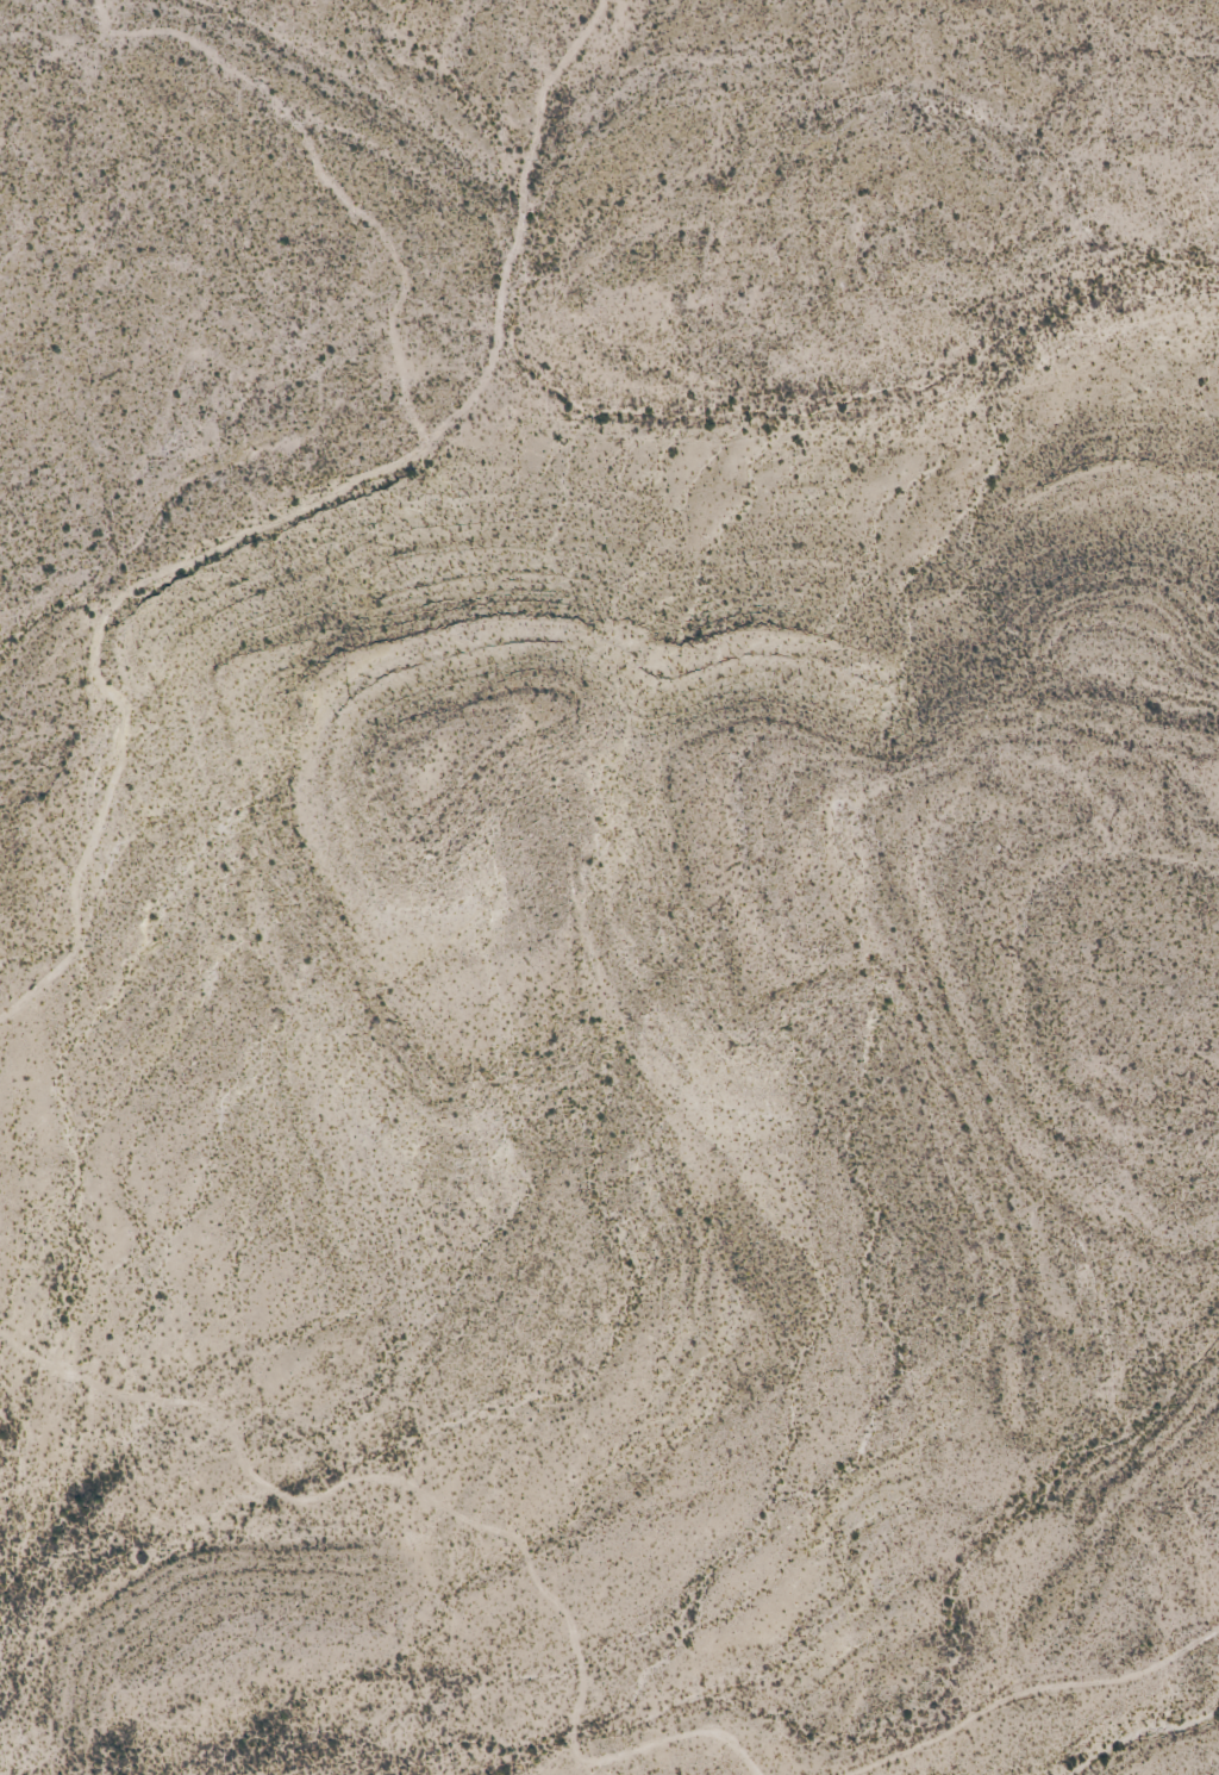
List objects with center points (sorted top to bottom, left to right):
road: (1056, 1717)

